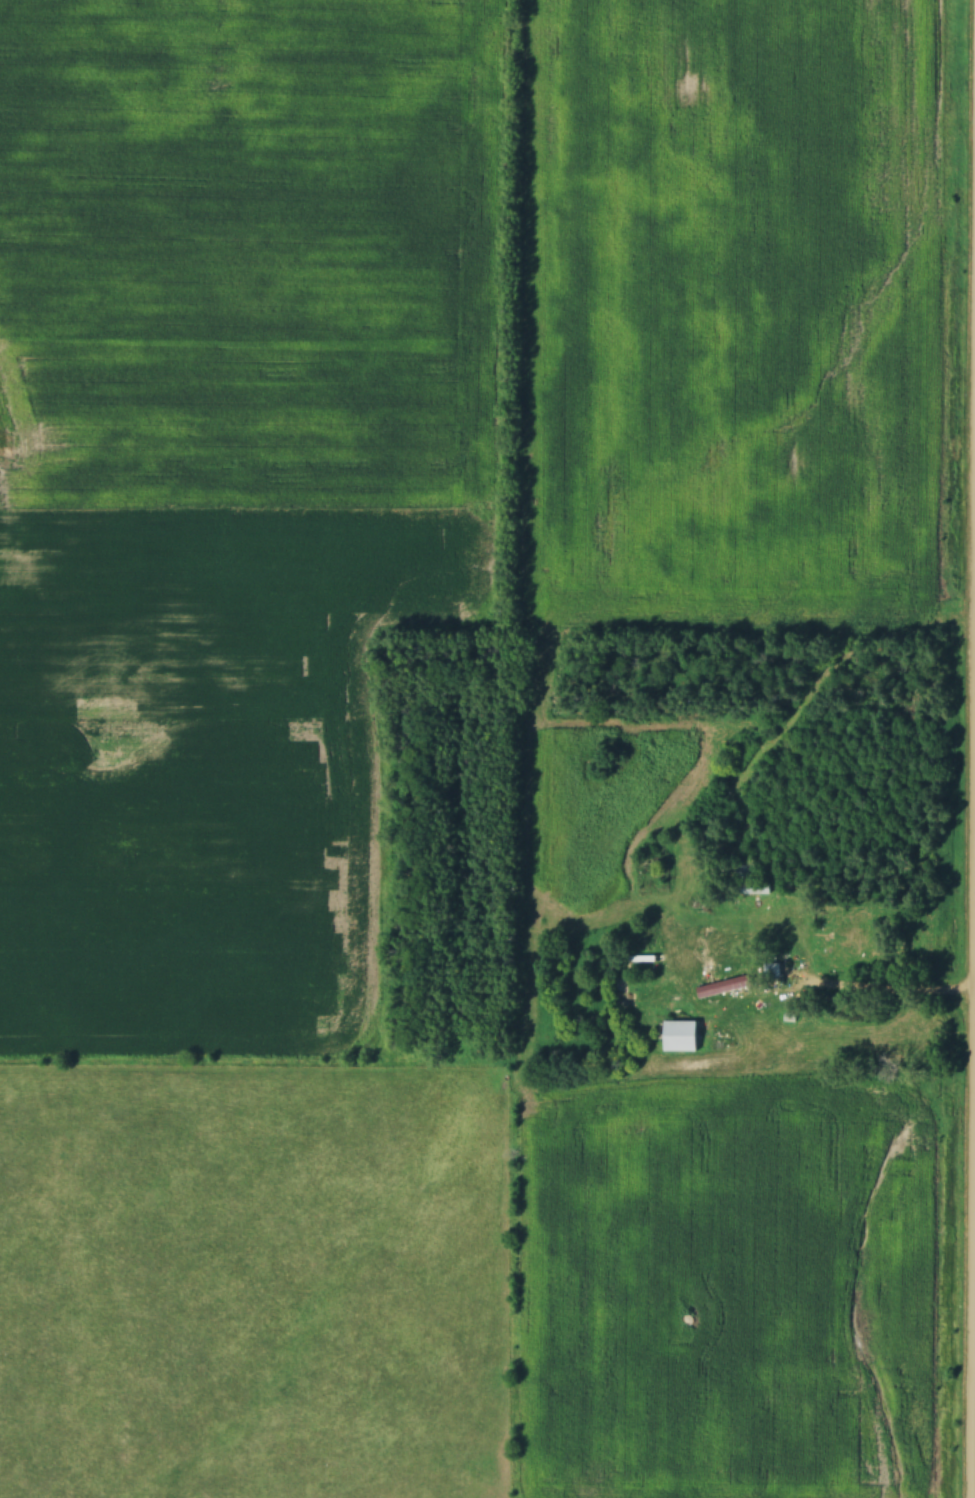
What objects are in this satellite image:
building: (755, 890)
building: (848, 932)
building: (680, 1036)
road: (974, 1391)

